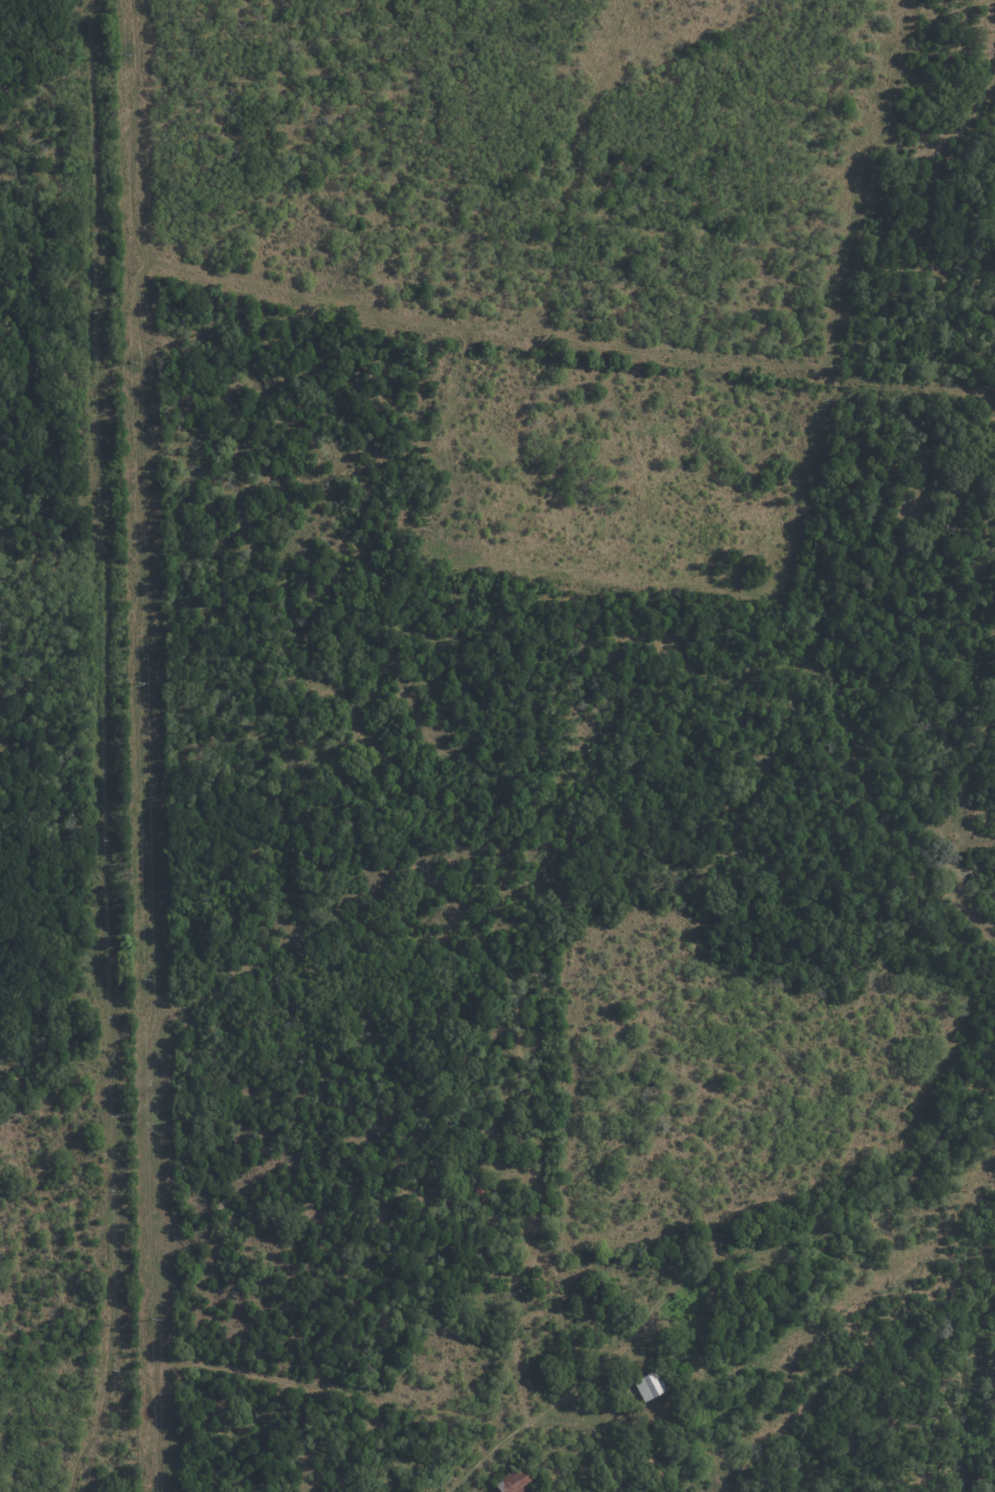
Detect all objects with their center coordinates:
building: (482, 1186)
building: (641, 1368)
building: (650, 1385)
road: (485, 1456)
building: (658, 1471)
building: (519, 1481)

